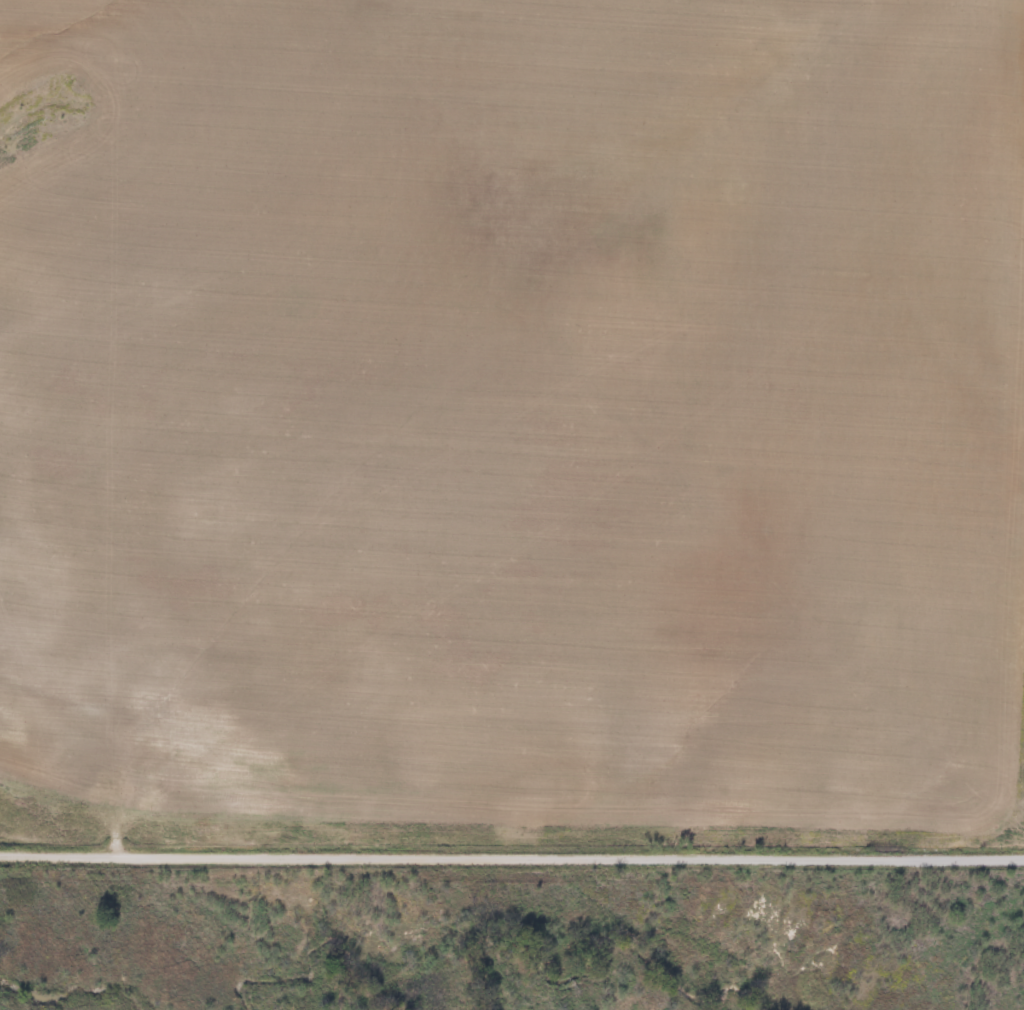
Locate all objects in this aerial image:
road: (511, 856)

